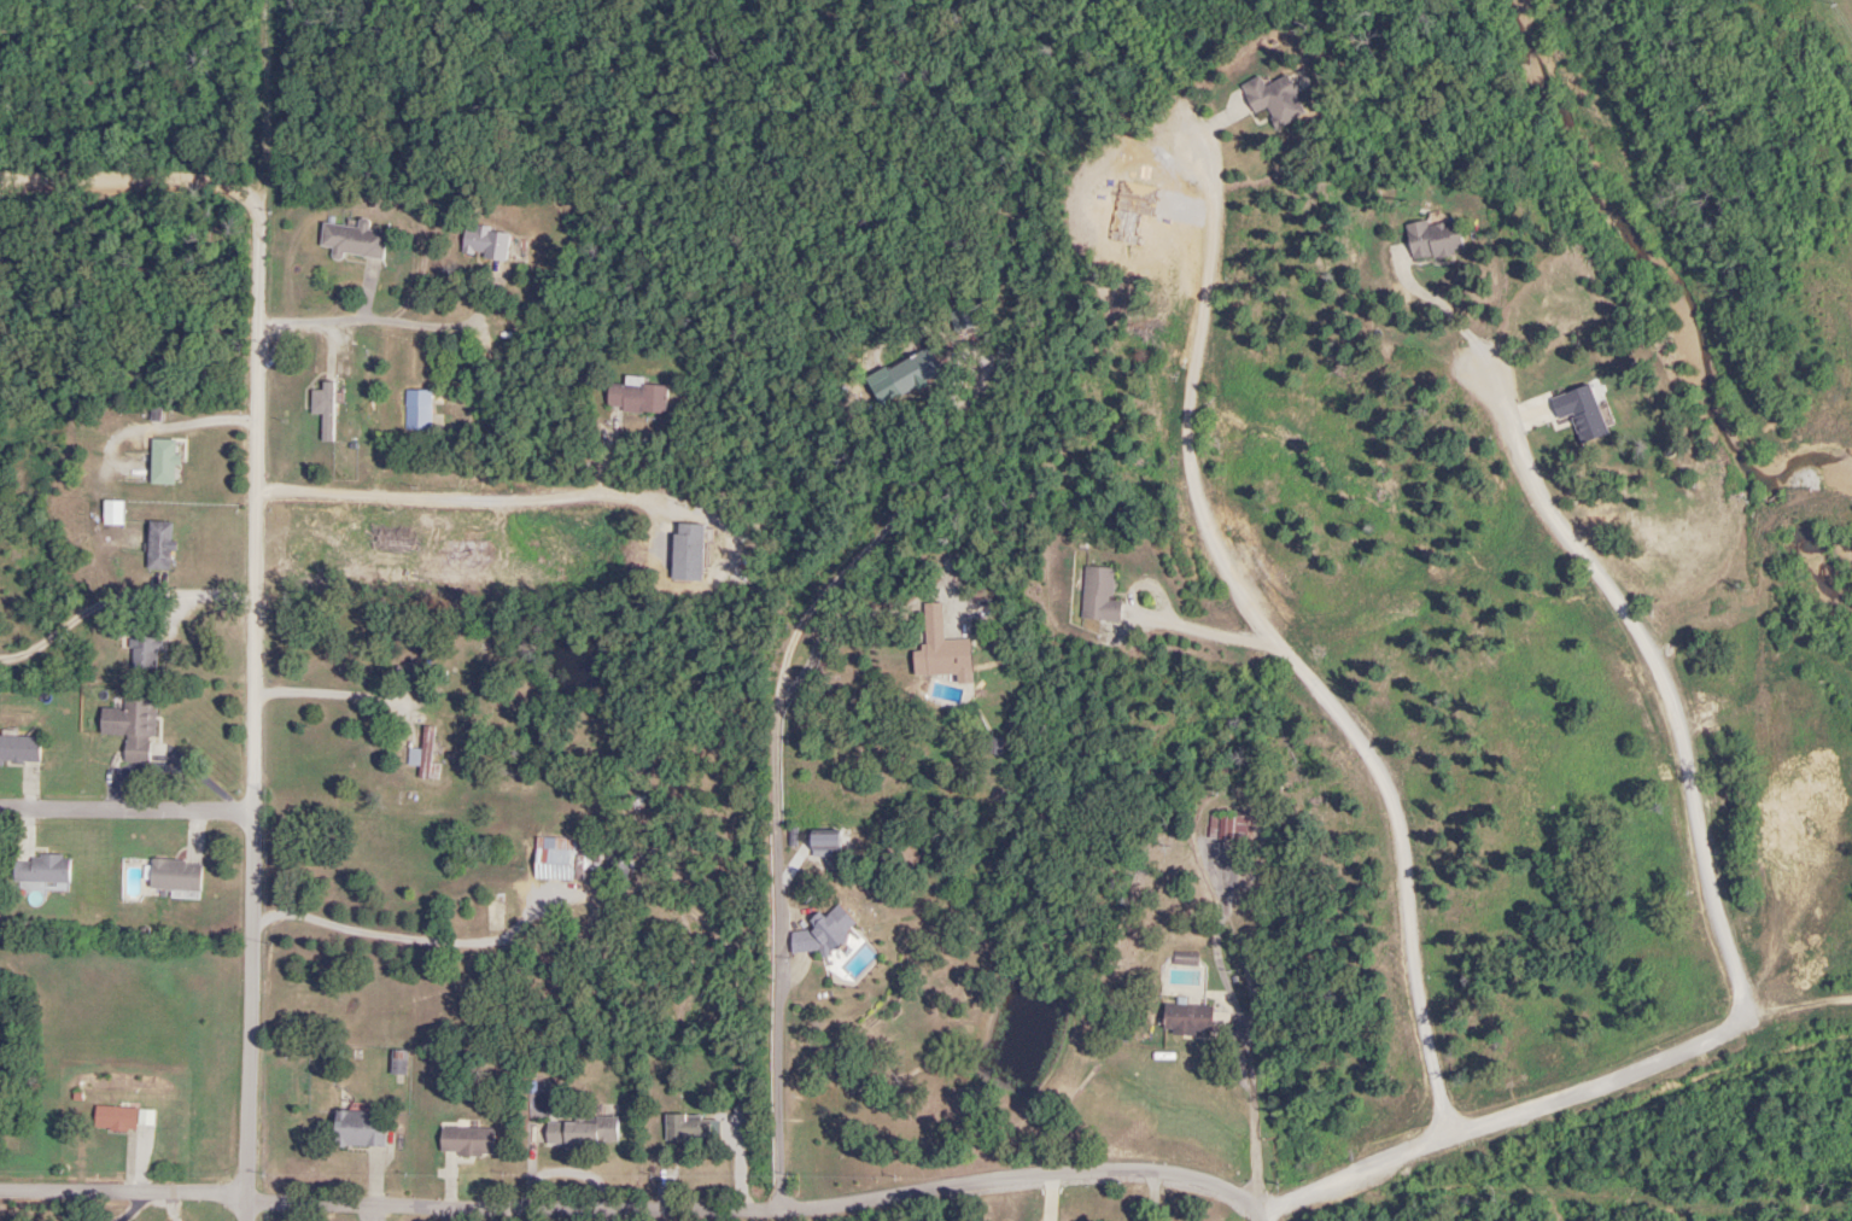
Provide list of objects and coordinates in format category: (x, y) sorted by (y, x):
building: (1273, 99)
road: (281, 100)
road: (139, 189)
building: (1433, 239)
building: (352, 240)
building: (484, 243)
road: (374, 325)
building: (913, 372)
building: (636, 398)
building: (323, 409)
building: (1579, 411)
building: (162, 461)
road: (428, 496)
building: (111, 513)
building: (158, 545)
building: (393, 548)
building: (687, 551)
building: (1098, 595)
building: (941, 649)
building: (144, 652)
road: (1280, 653)
road: (1648, 670)
road: (199, 678)
road: (805, 684)
road: (251, 709)
building: (130, 725)
road: (1759, 737)
building: (18, 749)
building: (421, 752)
road: (125, 811)
road: (413, 817)
building: (1226, 826)
building: (554, 858)
building: (40, 870)
building: (174, 875)
building: (818, 933)
road: (411, 941)
building: (1184, 958)
building: (1186, 1018)
road: (1251, 1024)
building: (397, 1062)
building: (113, 1118)
building: (689, 1128)
building: (358, 1129)
building: (582, 1133)
road: (748, 1135)
building: (466, 1140)
road: (598, 1179)
road: (1262, 1210)
road: (632, 1215)
road: (536, 1216)

